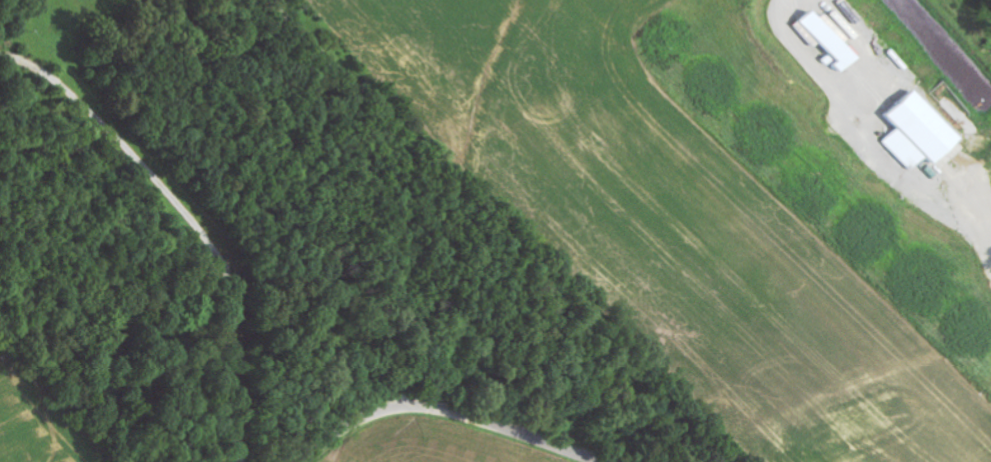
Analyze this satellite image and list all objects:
building: (832, 40)
building: (921, 134)
road: (452, 415)

